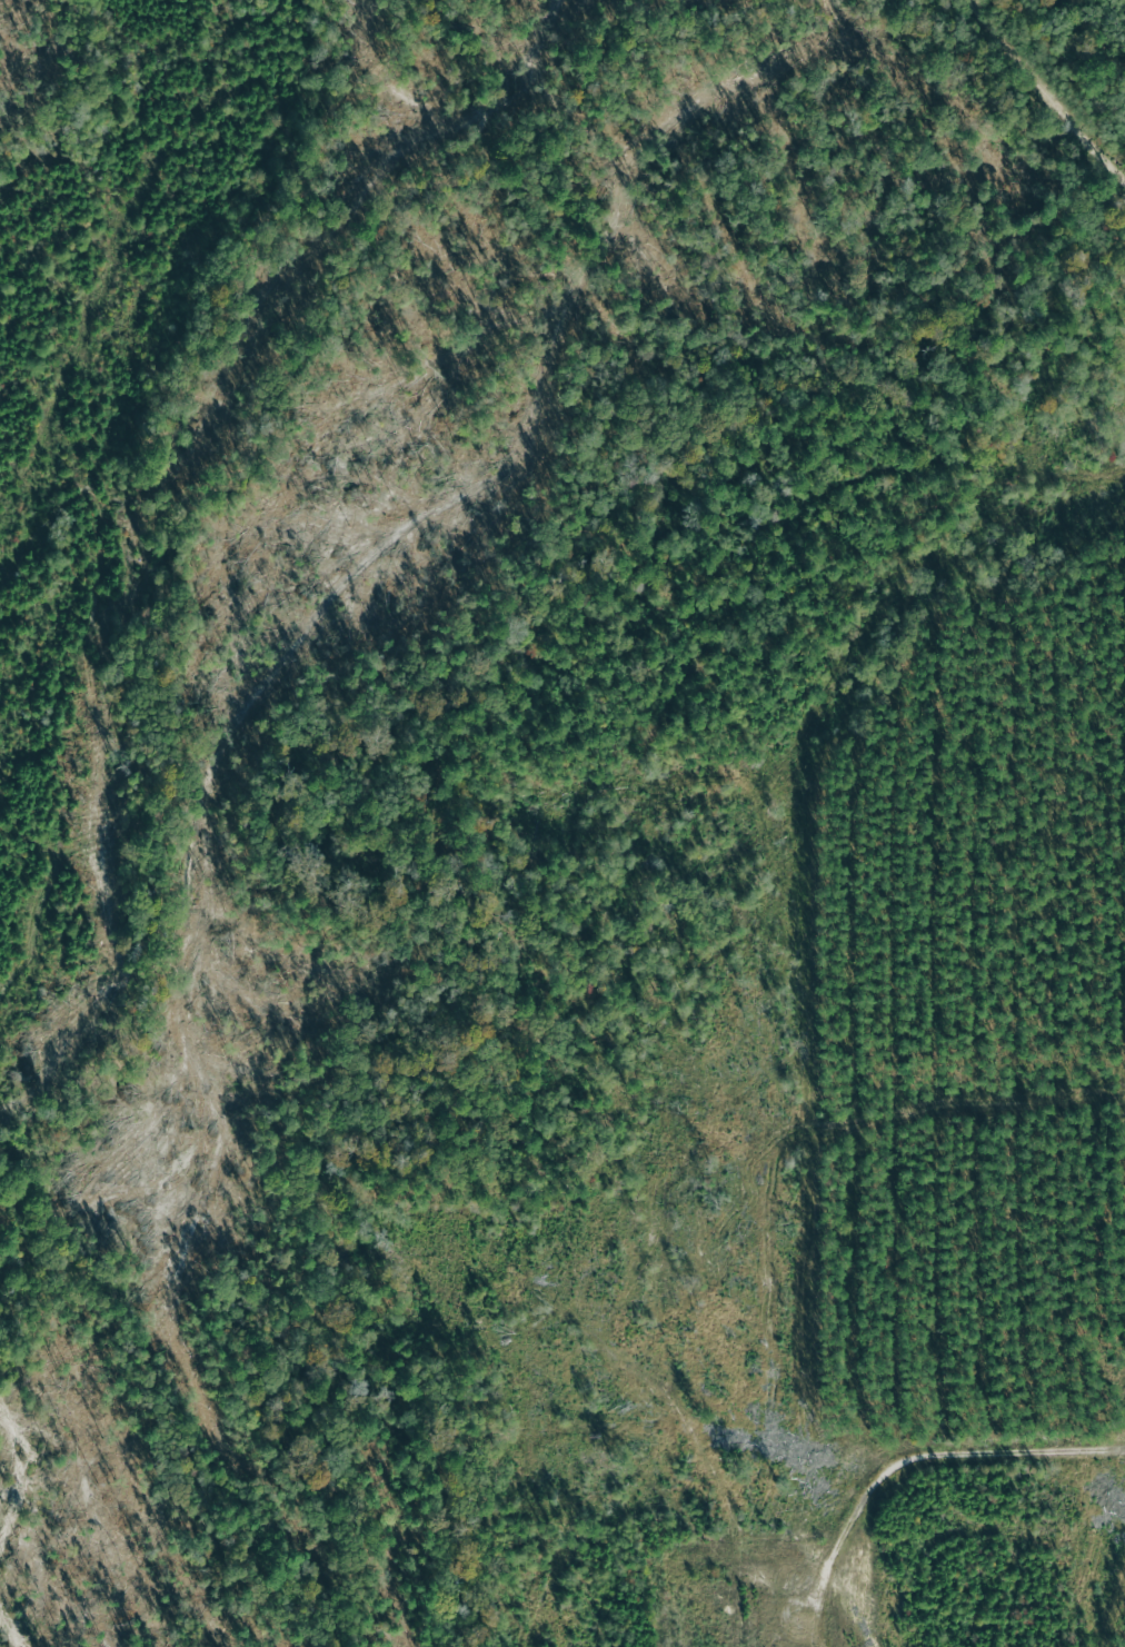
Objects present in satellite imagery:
road: (1048, 91)
road: (6, 1401)
road: (946, 1468)

